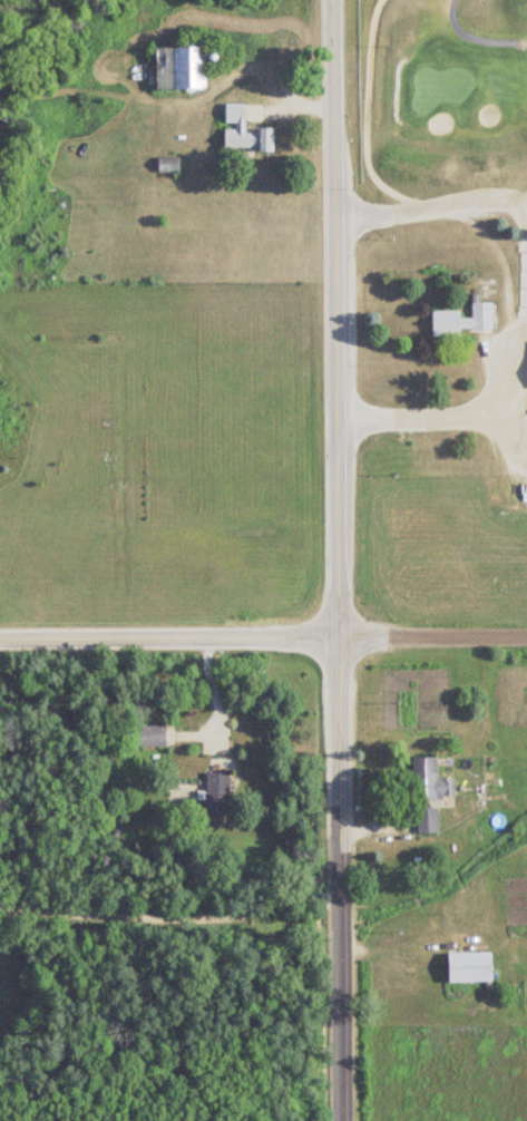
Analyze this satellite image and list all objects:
building: (182, 69)
building: (245, 131)
building: (169, 165)
road: (431, 205)
building: (463, 321)
road: (432, 417)
road: (338, 560)
road: (263, 637)
road: (211, 696)
building: (153, 735)
building: (218, 792)
building: (430, 792)
road: (170, 915)
building: (471, 966)

